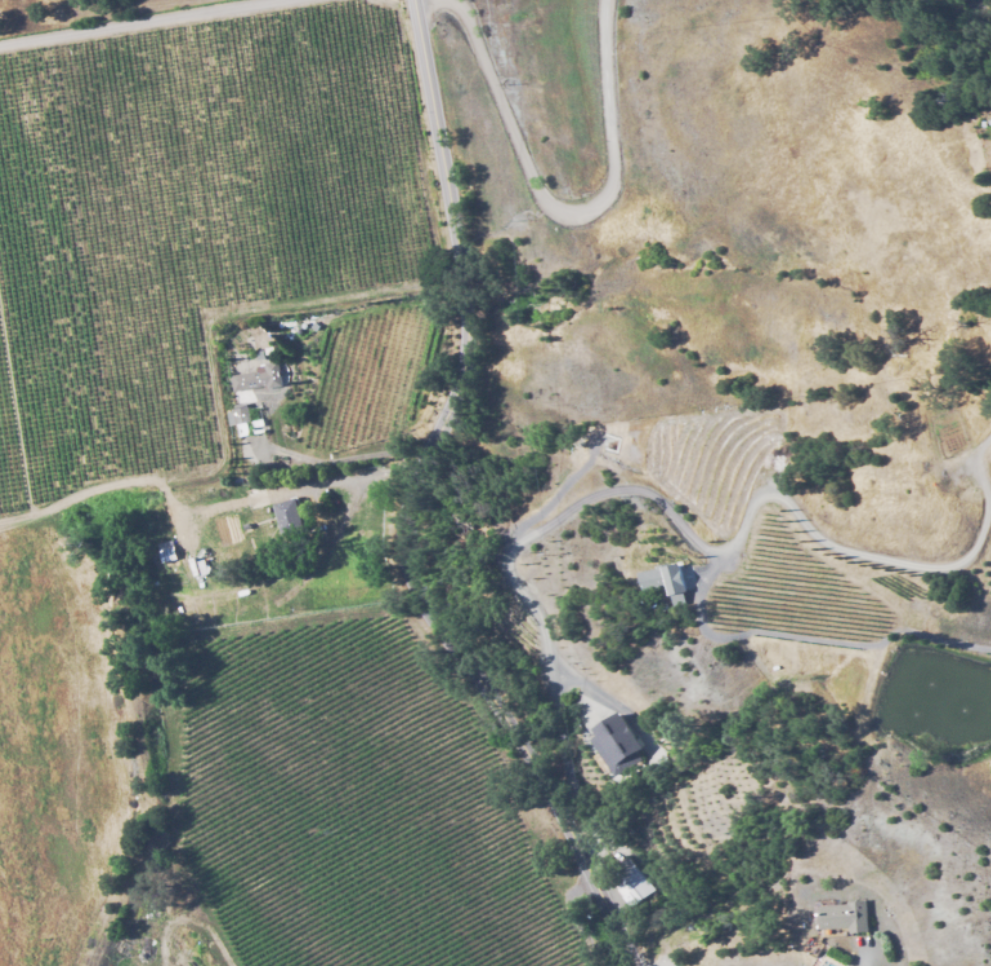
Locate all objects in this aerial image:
road: (559, 214)
building: (256, 377)
building: (237, 415)
road: (350, 457)
road: (402, 506)
building: (288, 515)
building: (663, 581)
building: (620, 742)
building: (623, 891)
building: (845, 918)

